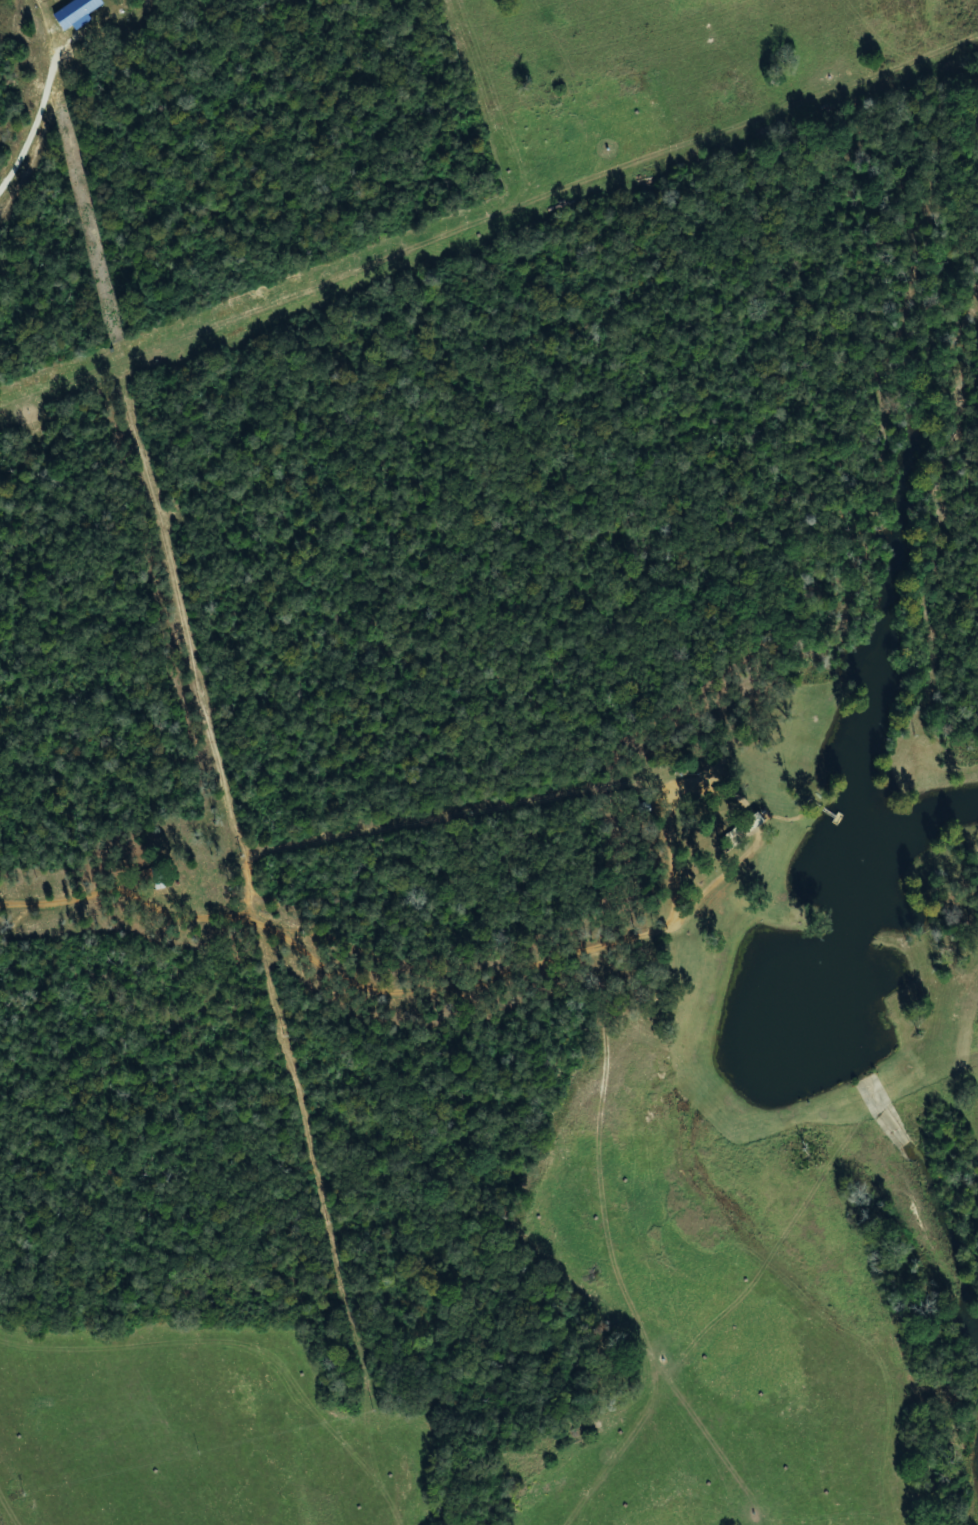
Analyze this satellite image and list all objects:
building: (79, 13)
road: (43, 123)
road: (357, 980)

